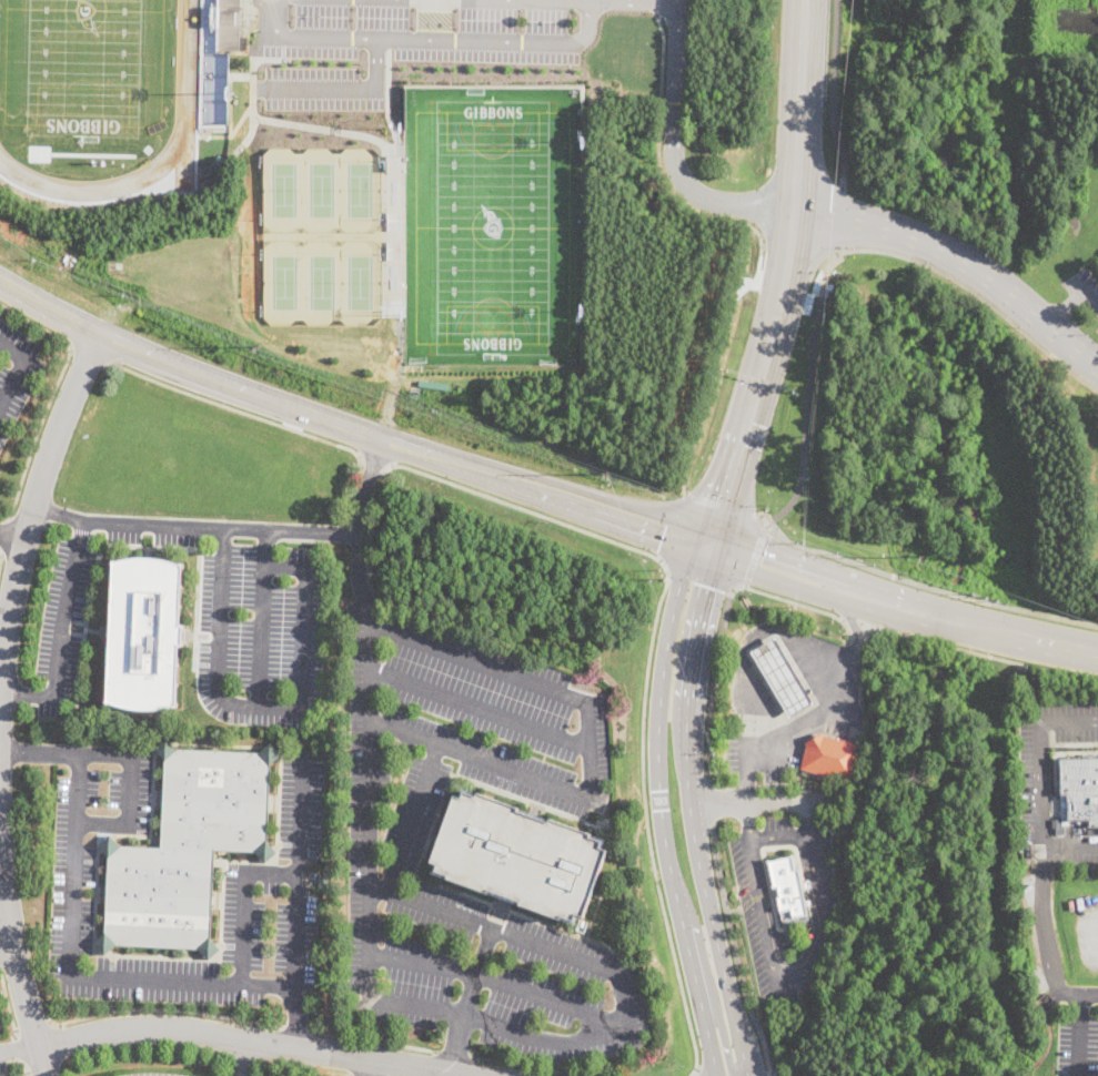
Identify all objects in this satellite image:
road: (268, 1)
road: (635, 2)
road: (656, 7)
building: (229, 24)
road: (1013, 40)
road: (464, 42)
track: (187, 55)
road: (802, 57)
park: (83, 67)
road: (345, 90)
road: (833, 92)
road: (675, 150)
road: (661, 164)
road: (1067, 182)
park: (283, 189)
park: (322, 189)
park: (360, 189)
road: (836, 216)
park: (494, 225)
park: (493, 227)
road: (960, 260)
park: (322, 281)
park: (360, 281)
park: (284, 282)
parking lot: (1084, 288)
road: (977, 292)
road: (1072, 301)
road: (1045, 306)
parking lot: (1097, 332)
road: (772, 333)
power tower: (258, 344)
road: (90, 354)
road: (18, 368)
parking lot: (16, 373)
road: (53, 392)
road: (809, 393)
road: (236, 408)
road: (349, 424)
parking lot: (244, 449)
road: (373, 461)
power tower: (607, 473)
road: (682, 488)
road: (36, 497)
traffic signals: (723, 498)
road: (721, 505)
road: (762, 517)
road: (60, 524)
road: (194, 526)
road: (672, 527)
road: (82, 530)
parking lot: (154, 530)
road: (6, 532)
traffic signals: (664, 532)
road: (12, 537)
road: (1, 549)
road: (755, 554)
road: (1, 557)
power tower: (923, 557)
traffic signals: (760, 564)
road: (774, 567)
road: (698, 575)
road: (927, 585)
traffic signals: (709, 587)
road: (662, 596)
road: (874, 599)
road: (807, 605)
road: (87, 612)
road: (63, 615)
road: (854, 619)
parking lot: (62, 623)
road: (870, 626)
road: (884, 629)
road: (1004, 631)
building: (144, 632)
parking lot: (259, 632)
road: (261, 633)
road: (994, 654)
road: (773, 673)
road: (713, 676)
building: (782, 678)
gas station: (782, 678)
road: (1028, 688)
road: (19, 696)
road: (479, 707)
road: (286, 708)
parking lot: (480, 709)
parking lot: (1070, 721)
road: (794, 725)
road: (591, 749)
road: (66, 752)
building: (832, 758)
road: (367, 760)
parking lot: (1029, 781)
road: (1039, 781)
road: (77, 788)
building: (1079, 790)
road: (753, 800)
road: (708, 801)
road: (659, 808)
road: (691, 813)
road: (779, 834)
building: (187, 849)
building: (518, 855)
parking lot: (1078, 861)
parking lot: (264, 875)
building: (324, 882)
road: (380, 884)
building: (787, 890)
road: (241, 900)
road: (1041, 917)
parking lot: (470, 940)
road: (535, 943)
road: (735, 948)
road: (8, 952)
road: (805, 952)
road: (16, 955)
road: (479, 971)
road: (158, 979)
road: (496, 979)
road: (792, 979)
road: (709, 985)
road: (1076, 994)
road: (8, 1003)
road: (161, 1008)
road: (295, 1015)
road: (32, 1026)
road: (293, 1026)
parking lot: (0, 1029)
road: (1074, 1035)
road: (260, 1038)
road: (372, 1039)
road: (460, 1042)
road: (20, 1046)
parking lot: (1077, 1046)
road: (19, 1048)
road: (1, 1050)
road: (453, 1053)
road: (243, 1056)
road: (10, 1059)
parking lot: (1, 1063)
road: (532, 1065)
road: (364, 1066)
road: (340, 1072)
road: (772, 1073)
parking lot: (157, 1074)
road: (357, 1075)

